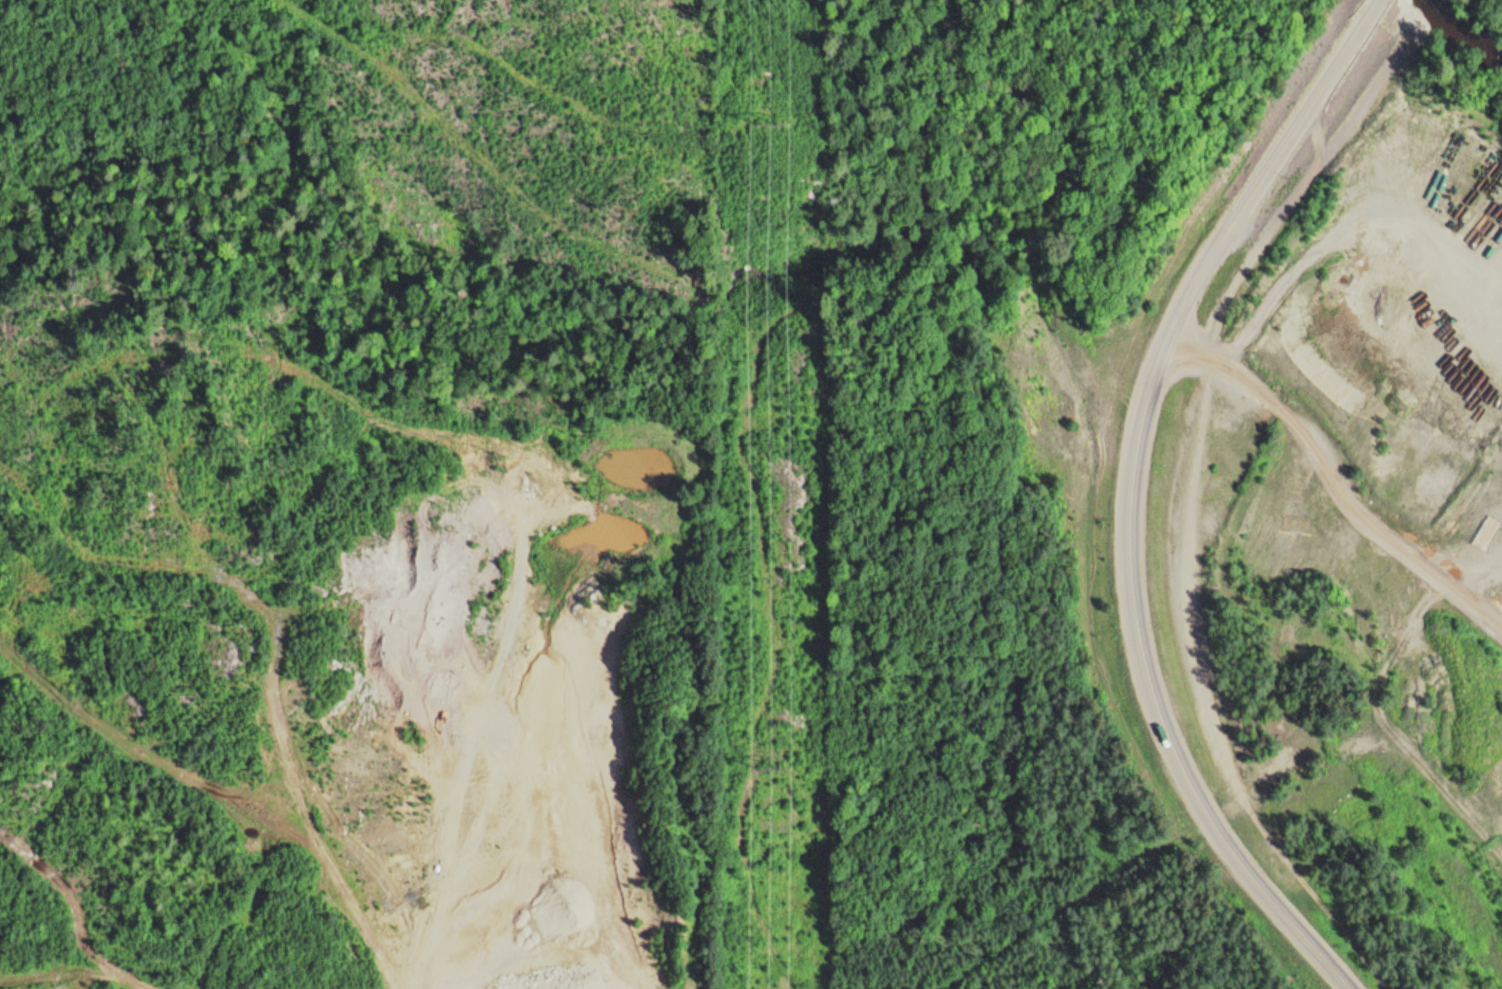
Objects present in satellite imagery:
river: (1448, 26)
river: (1484, 68)
power tower: (788, 118)
road: (1158, 388)
power tower: (782, 770)
road: (1285, 906)

